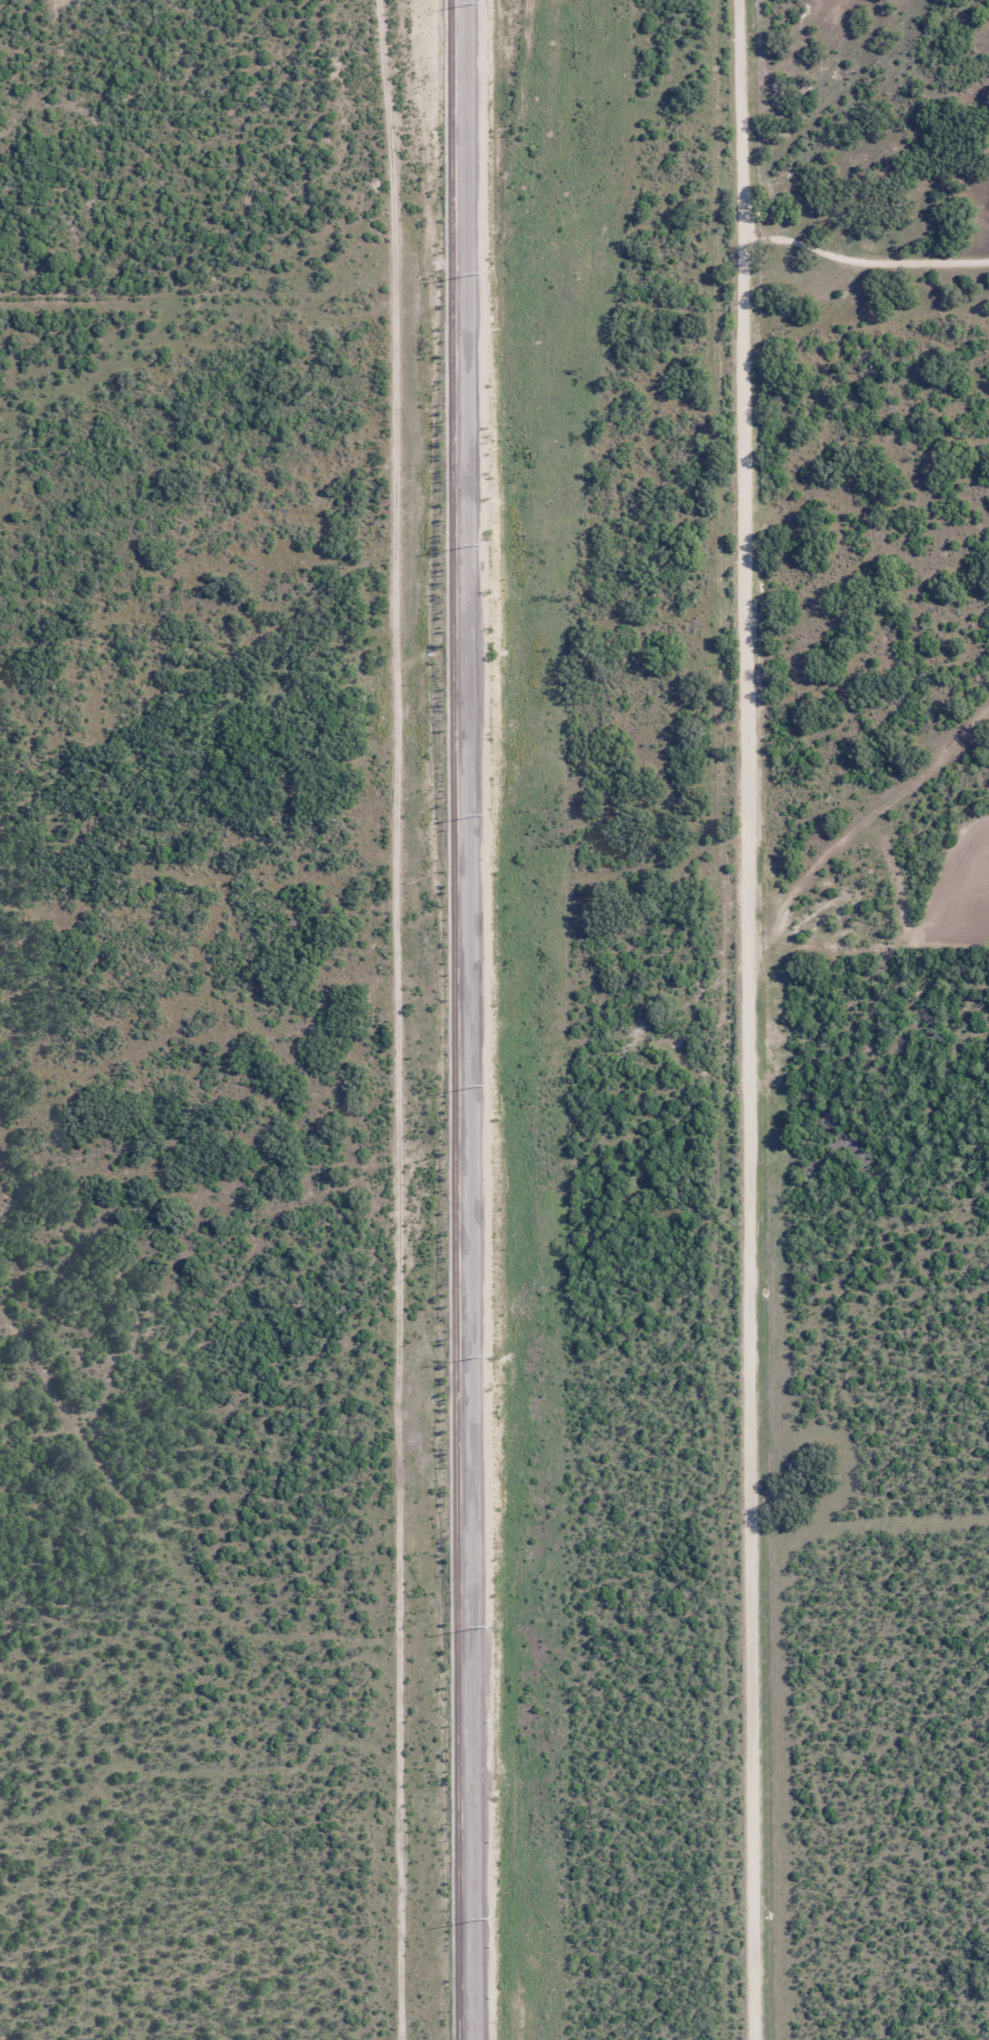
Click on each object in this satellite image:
power tower: (480, 3)
power tower: (482, 272)
power tower: (484, 543)
road: (840, 651)
power tower: (485, 813)
road: (855, 866)
road: (751, 1019)
railway: (457, 1020)
road: (473, 1020)
power tower: (486, 1086)
power tower: (487, 1357)
road: (787, 1508)
power tower: (488, 1627)
power tower: (489, 1918)

